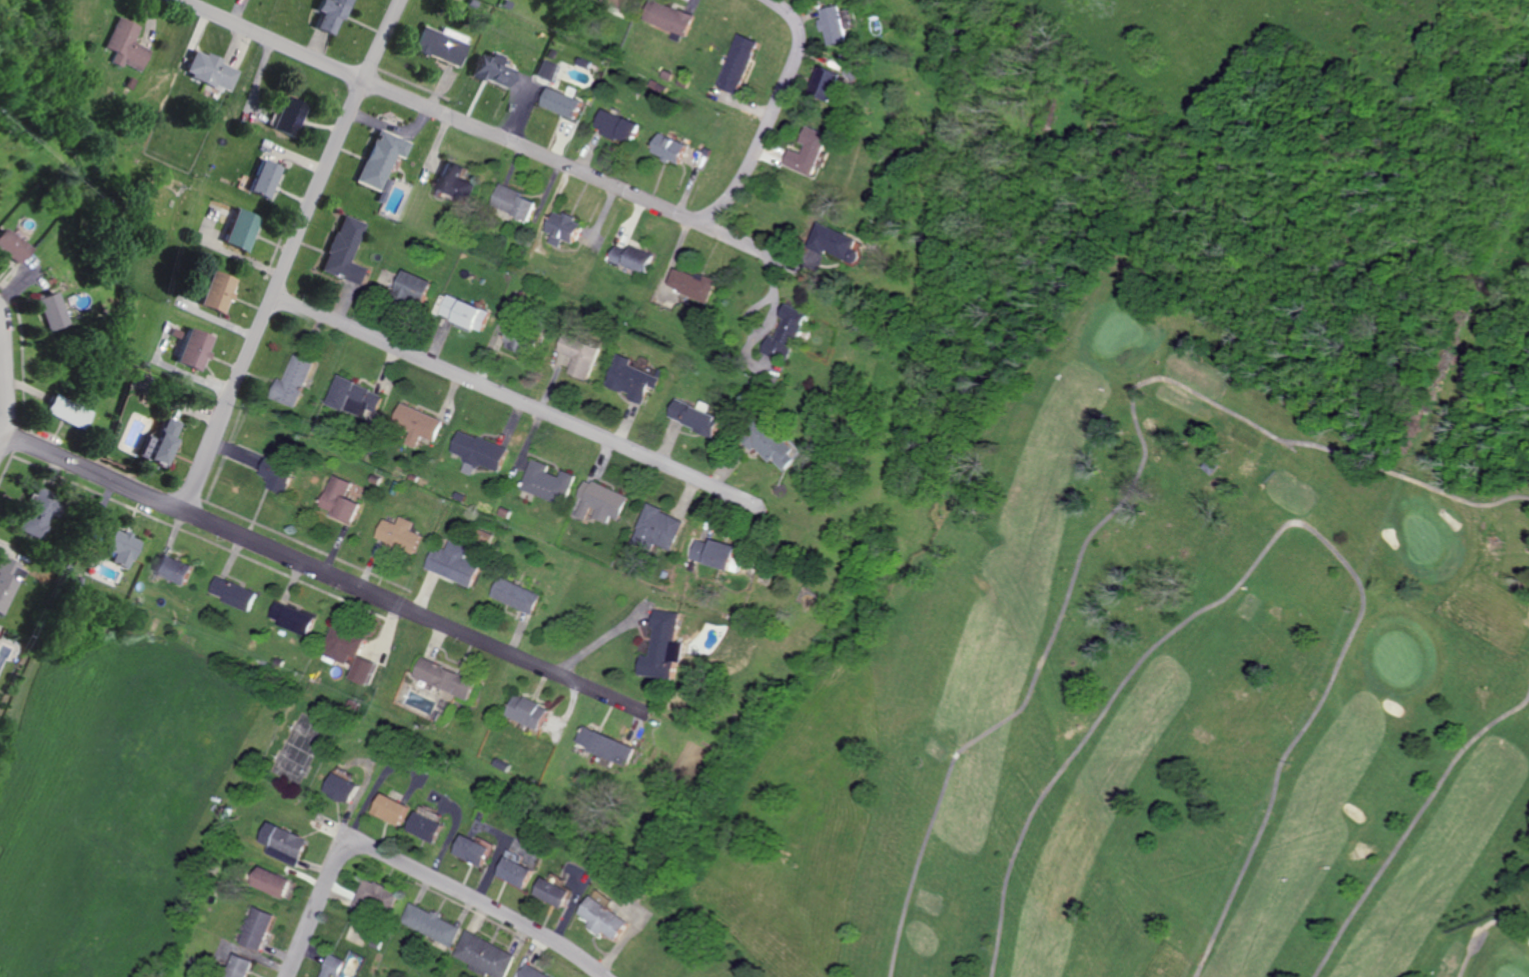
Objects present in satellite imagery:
building: (614, 3)
building: (331, 13)
building: (667, 18)
building: (836, 25)
road: (280, 39)
building: (121, 44)
building: (439, 44)
building: (738, 63)
building: (489, 69)
building: (546, 70)
building: (210, 71)
building: (827, 83)
building: (559, 101)
road: (770, 115)
building: (289, 116)
building: (614, 125)
road: (532, 147)
building: (668, 148)
building: (809, 151)
building: (382, 158)
building: (265, 178)
building: (453, 182)
building: (511, 202)
building: (562, 228)
building: (240, 230)
road: (742, 240)
building: (837, 242)
building: (8, 247)
building: (345, 250)
road: (295, 257)
building: (630, 257)
building: (691, 284)
building: (410, 287)
building: (215, 291)
building: (44, 310)
building: (462, 313)
building: (786, 333)
building: (192, 349)
building: (577, 357)
building: (629, 379)
road: (7, 380)
building: (288, 381)
building: (351, 397)
road: (515, 398)
building: (60, 411)
building: (693, 417)
building: (416, 424)
building: (158, 441)
building: (771, 447)
building: (478, 452)
building: (274, 474)
building: (547, 482)
building: (338, 499)
building: (600, 501)
building: (30, 514)
building: (659, 528)
building: (399, 534)
building: (116, 548)
building: (715, 553)
building: (453, 563)
building: (170, 568)
road: (321, 572)
building: (6, 580)
building: (233, 593)
building: (516, 595)
building: (292, 618)
road: (599, 638)
building: (343, 645)
building: (664, 647)
building: (362, 671)
building: (444, 678)
park: (1166, 684)
building: (528, 712)
building: (607, 745)
building: (341, 788)
building: (390, 809)
building: (426, 827)
building: (285, 840)
building: (472, 850)
building: (517, 872)
building: (271, 882)
building: (555, 892)
building: (376, 899)
road: (481, 903)
road: (319, 907)
building: (606, 918)
building: (431, 924)
building: (257, 929)
building: (486, 956)
building: (239, 966)
building: (333, 966)
building: (536, 972)

